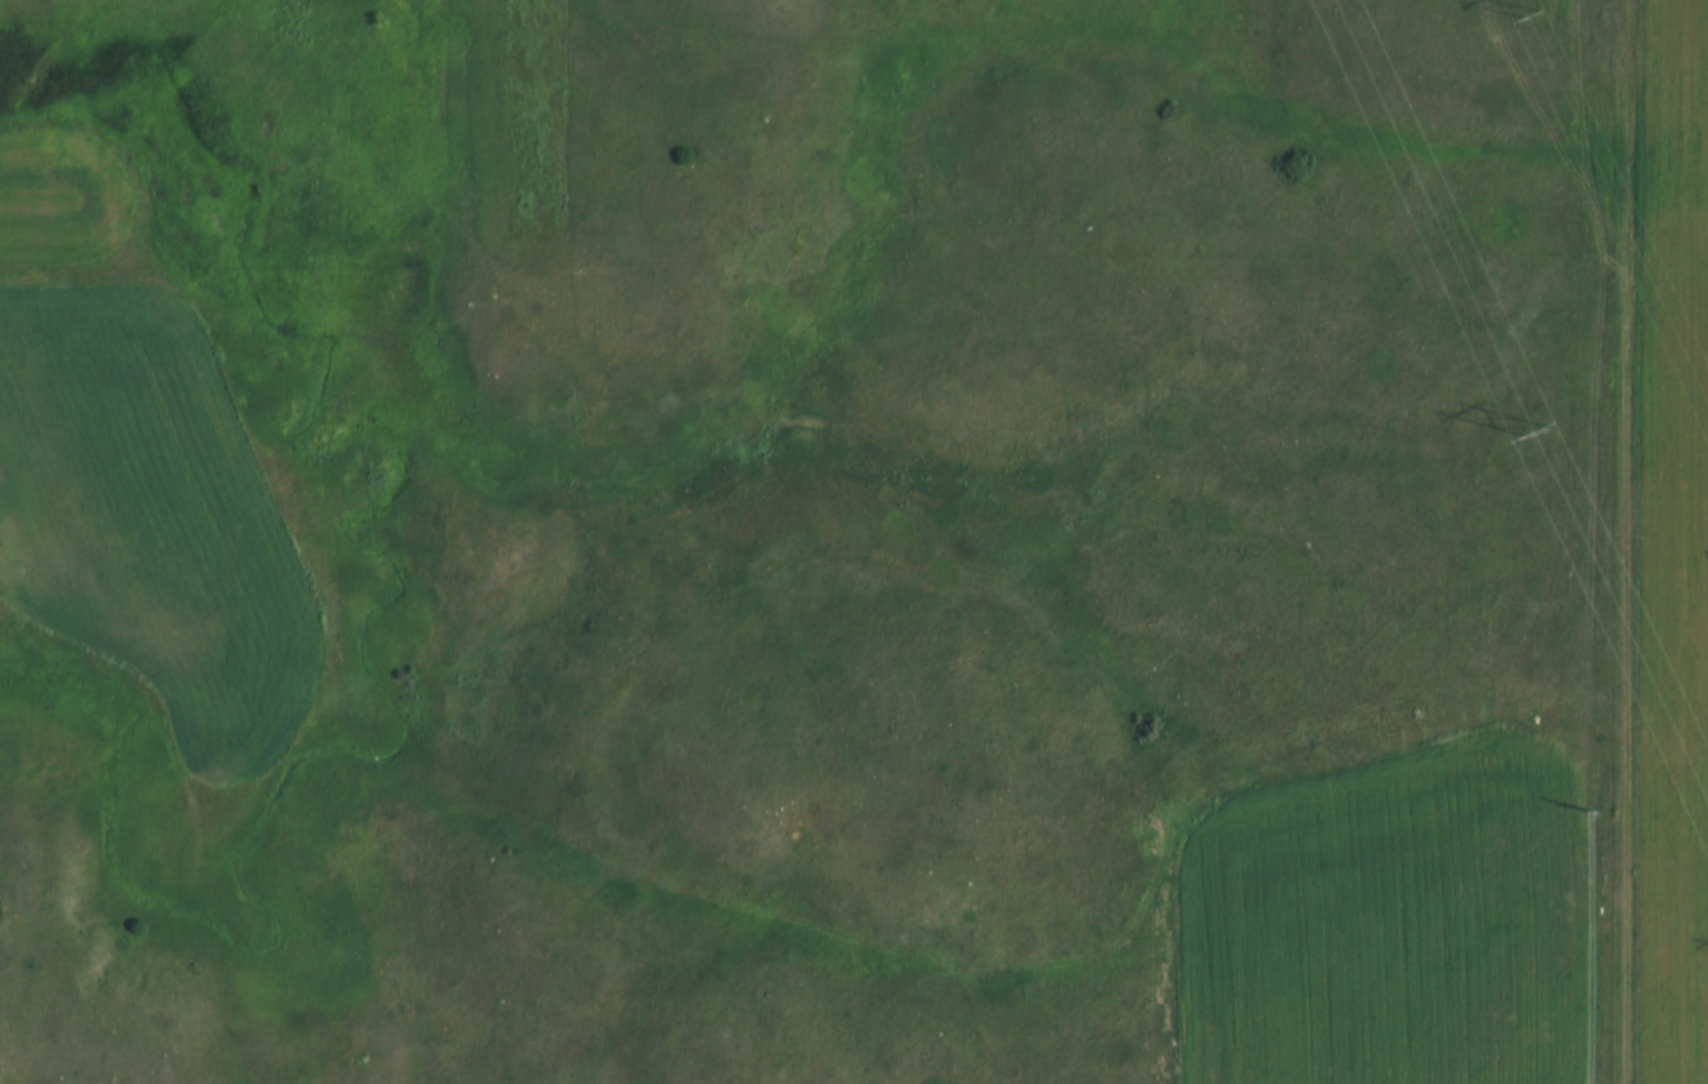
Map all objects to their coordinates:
power tower: (1517, 26)
road: (92, 289)

